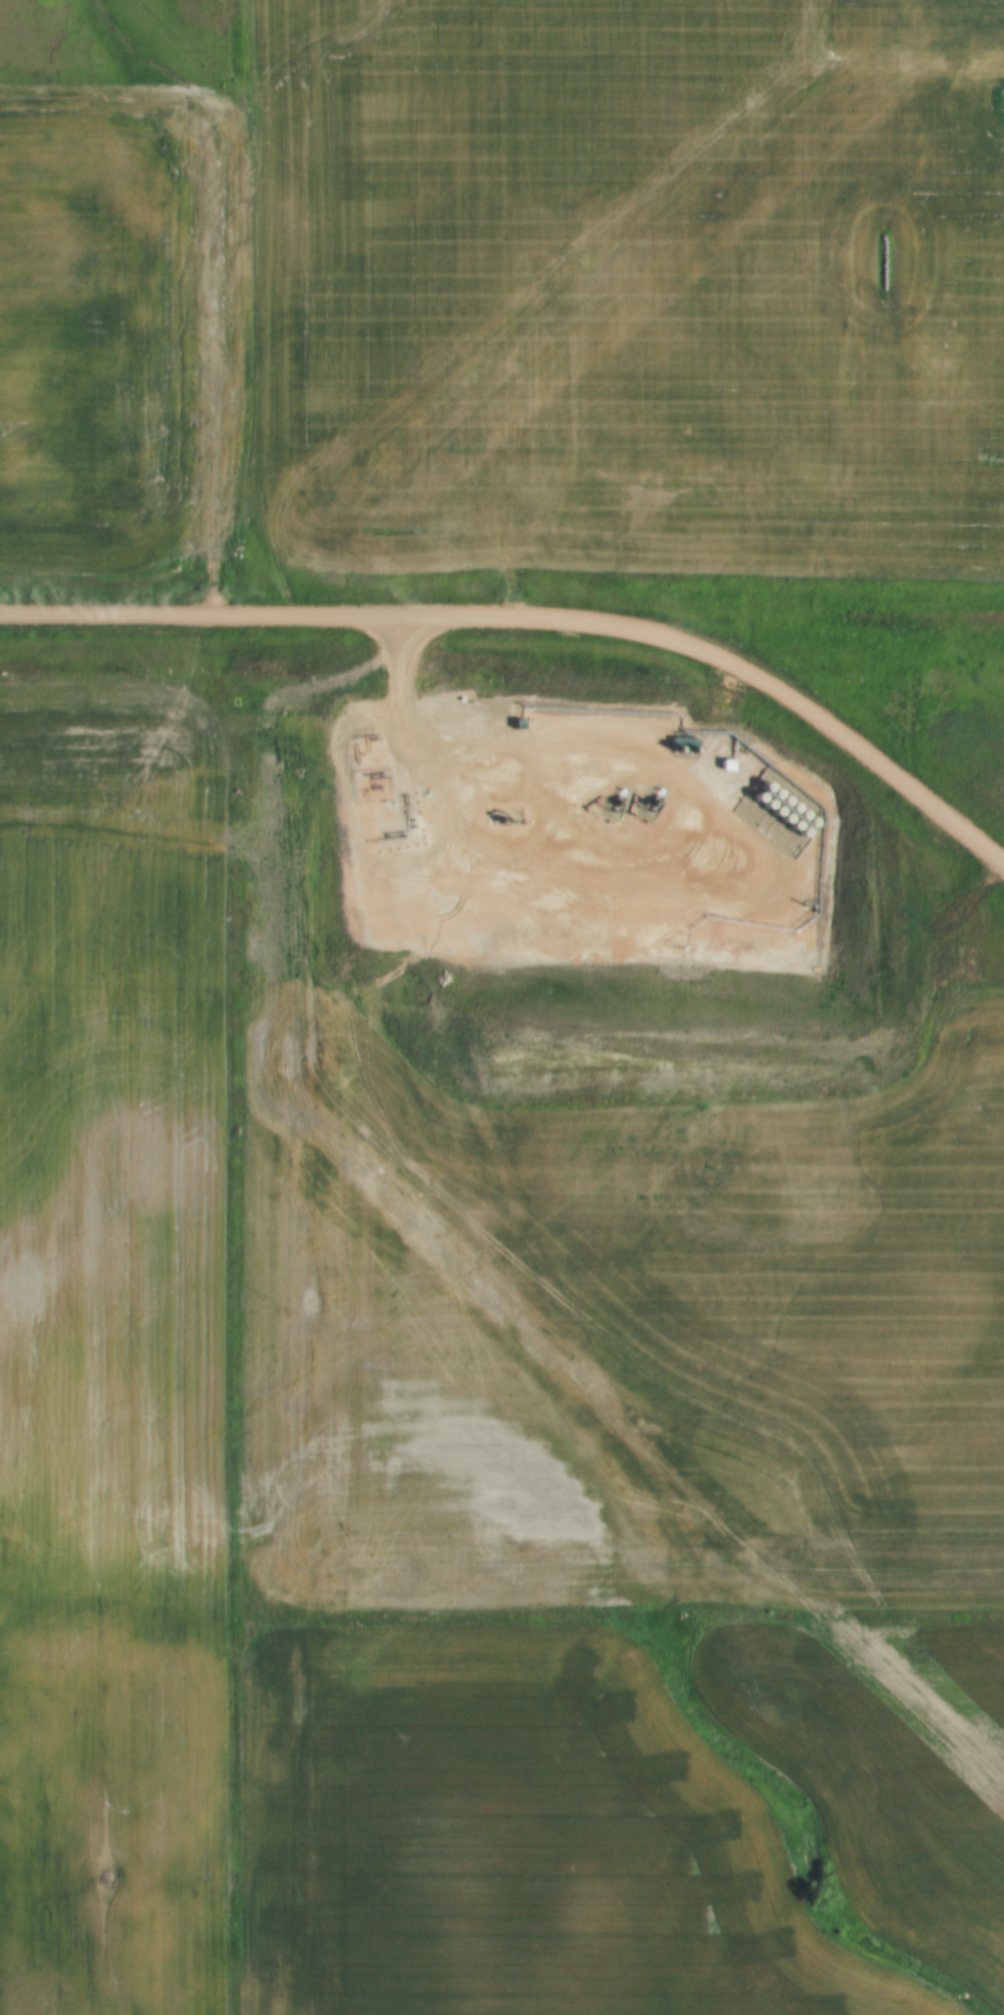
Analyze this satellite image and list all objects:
road: (542, 620)
building: (516, 721)
road: (714, 738)
petroleum well: (497, 818)

